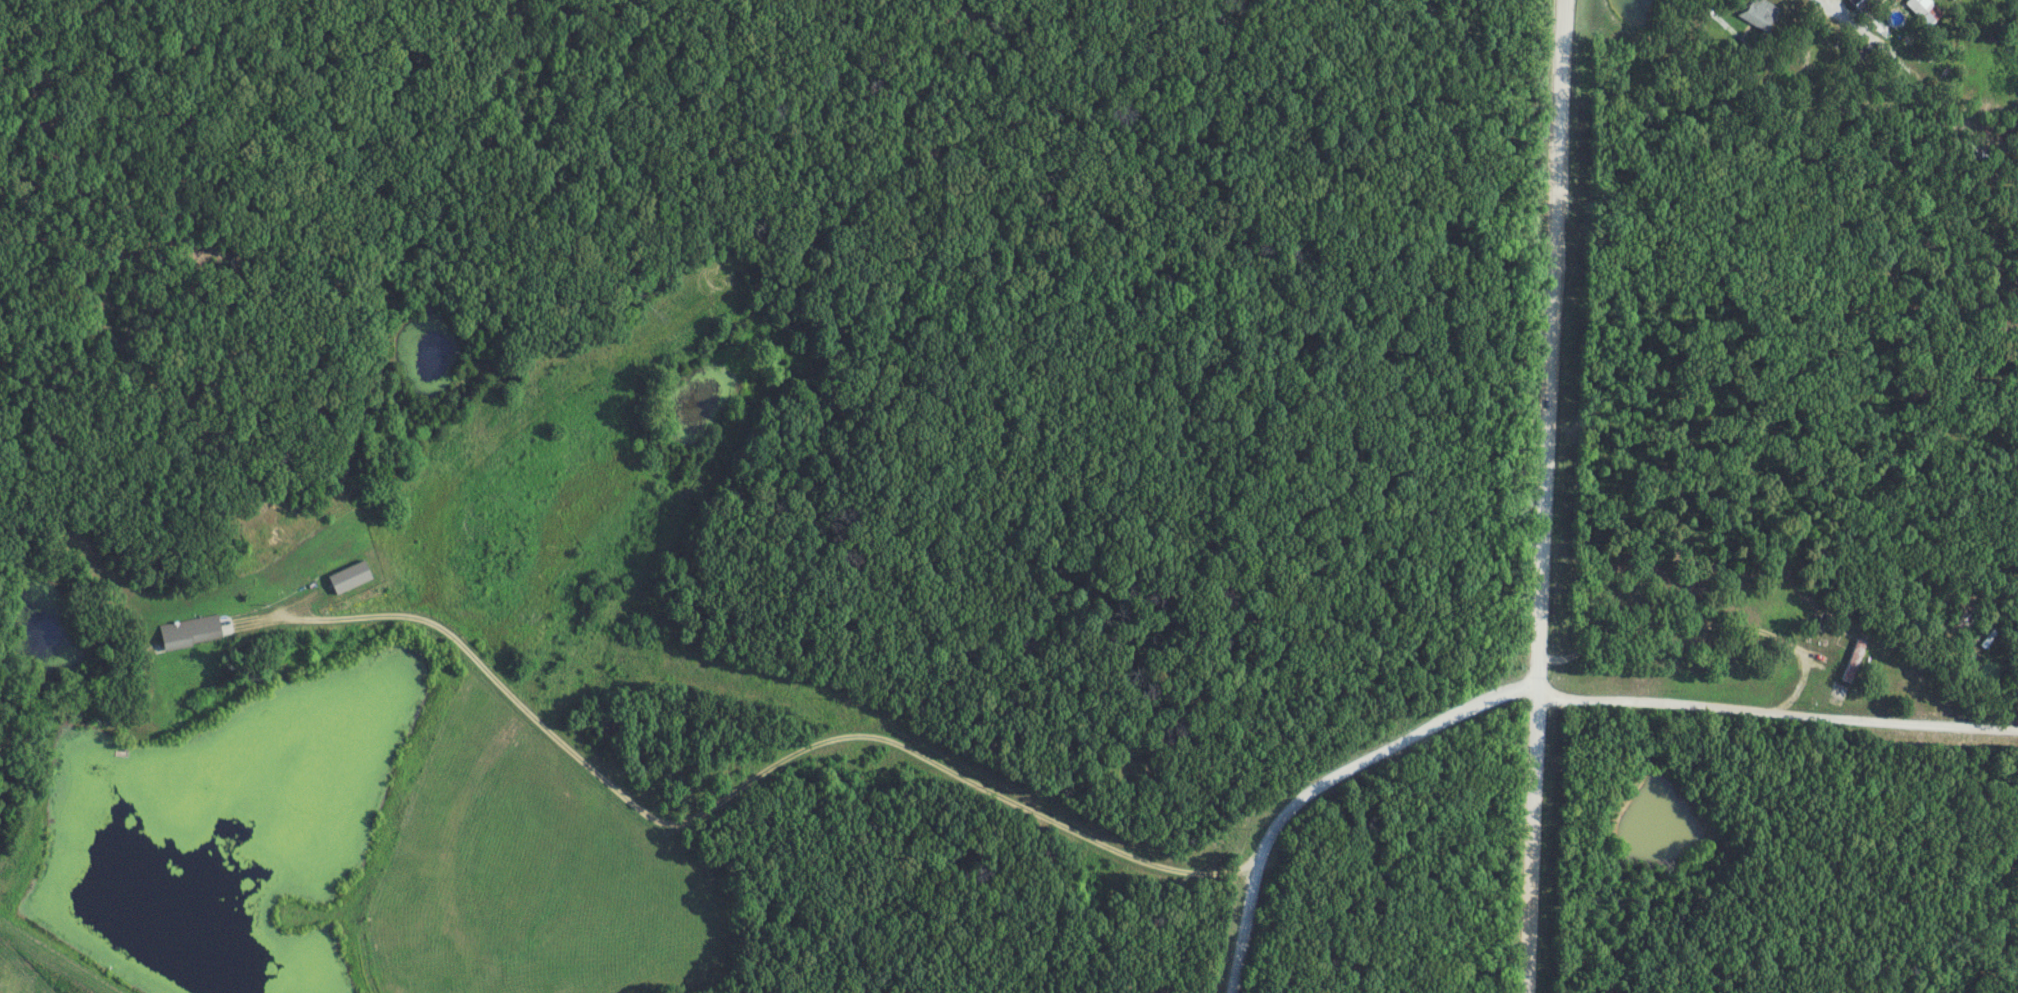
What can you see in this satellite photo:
building: (1863, 4)
building: (1887, 4)
building: (1925, 10)
building: (1760, 14)
road: (1760, 54)
road: (1543, 496)
building: (350, 577)
building: (1787, 611)
building: (191, 632)
building: (1853, 661)
road: (1539, 690)
road: (740, 787)

